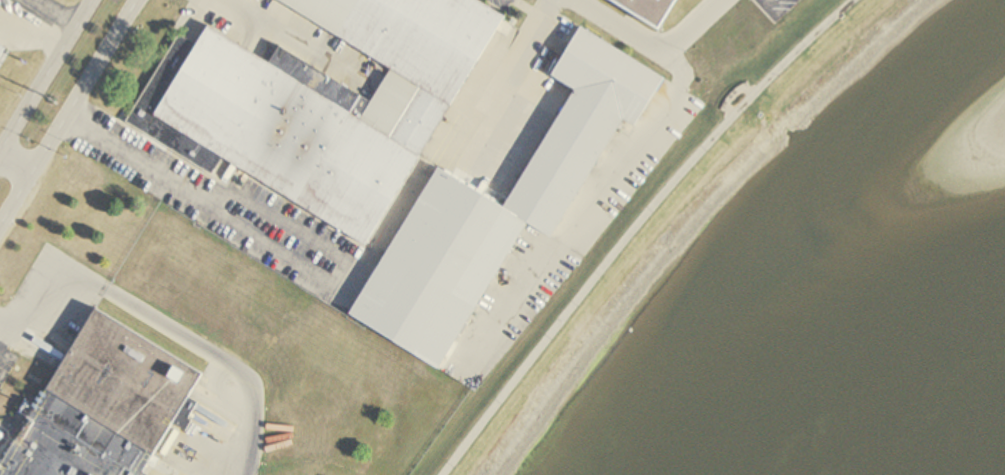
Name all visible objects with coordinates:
building: (655, 9)
road: (690, 25)
road: (616, 27)
road: (28, 34)
building: (3, 49)
road: (44, 73)
power tower: (52, 101)
building: (322, 102)
road: (68, 113)
road: (16, 165)
building: (502, 208)
road: (639, 227)
road: (274, 249)
road: (168, 327)
road: (1, 329)
river: (917, 407)
building: (109, 410)

